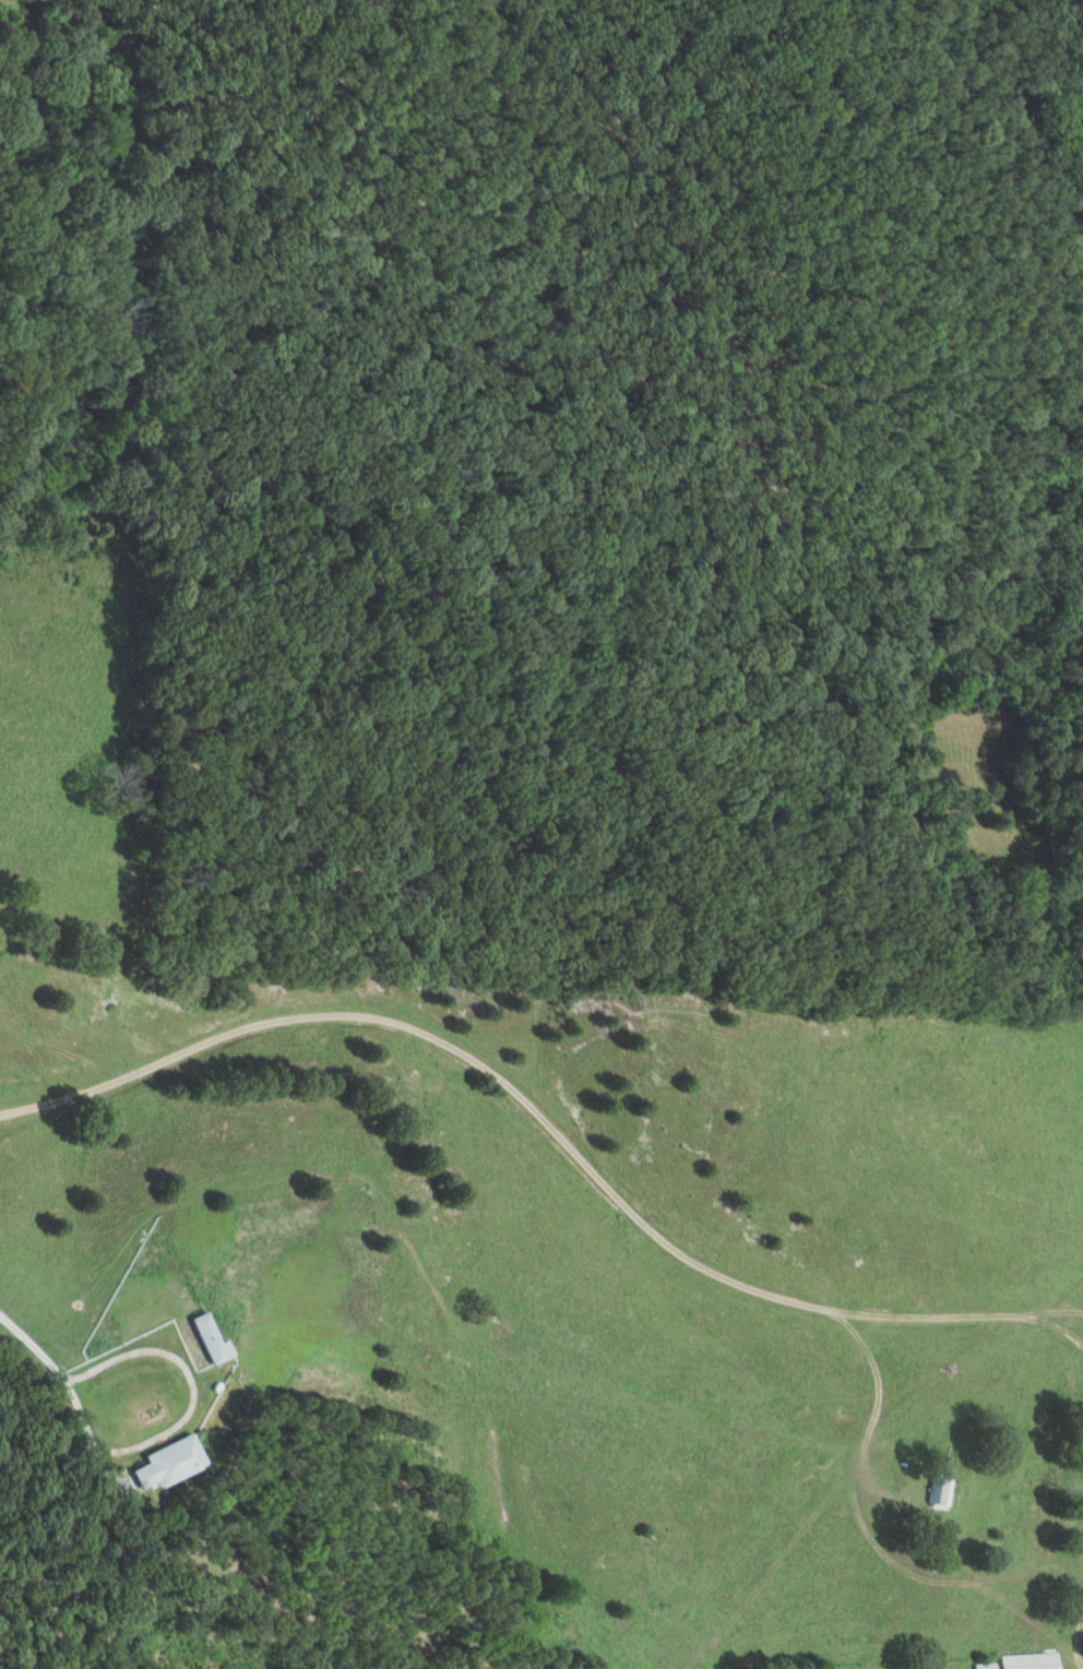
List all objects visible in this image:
road: (547, 1128)
building: (205, 1339)
road: (69, 1394)
building: (163, 1463)
building: (938, 1493)
road: (864, 1529)
building: (1030, 1661)

